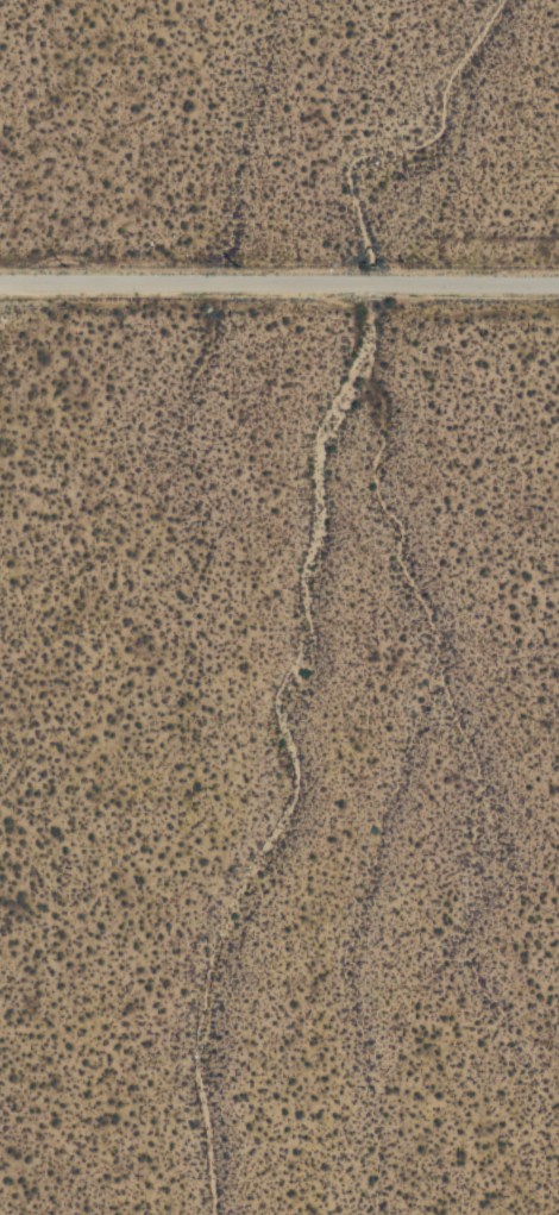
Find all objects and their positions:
road: (279, 286)

